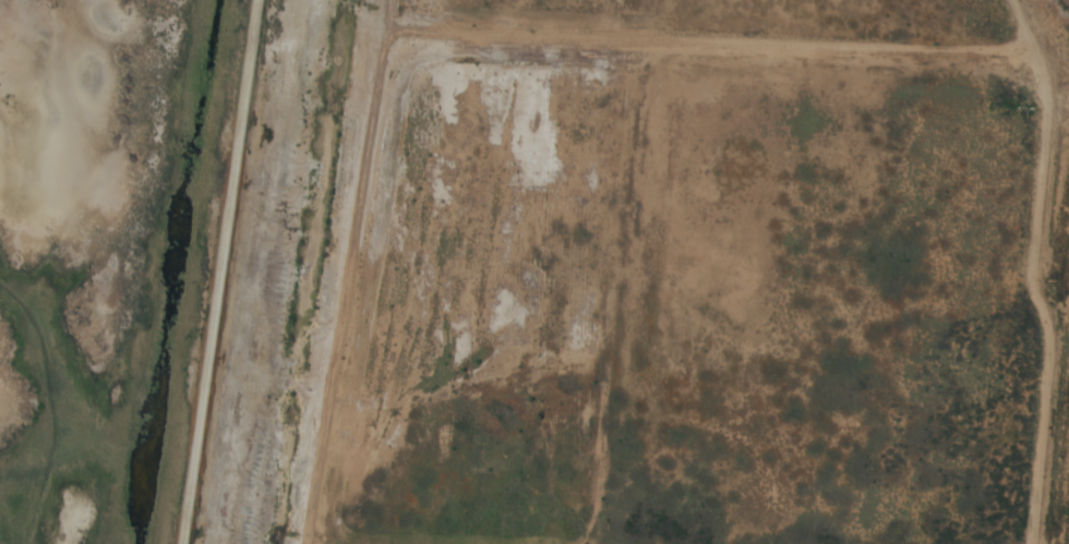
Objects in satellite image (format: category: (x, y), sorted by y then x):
road: (221, 271)

